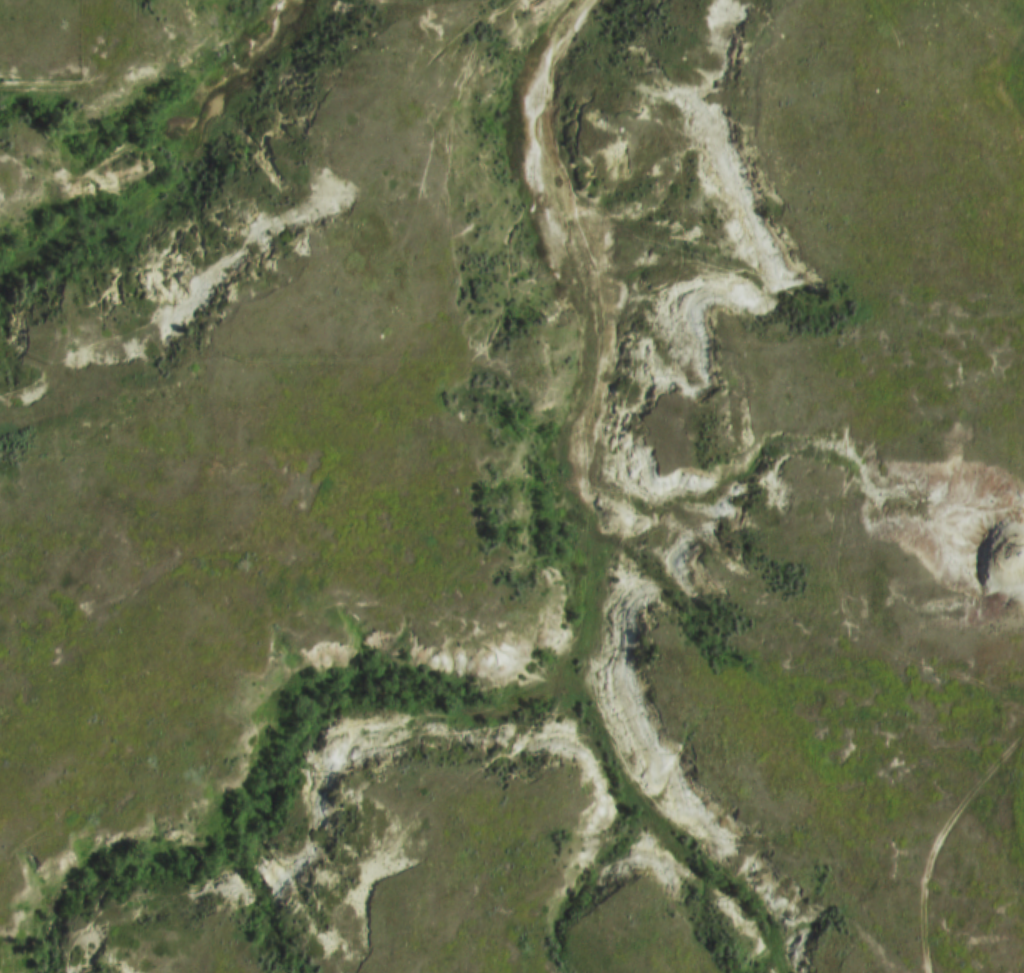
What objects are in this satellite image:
road: (935, 840)

